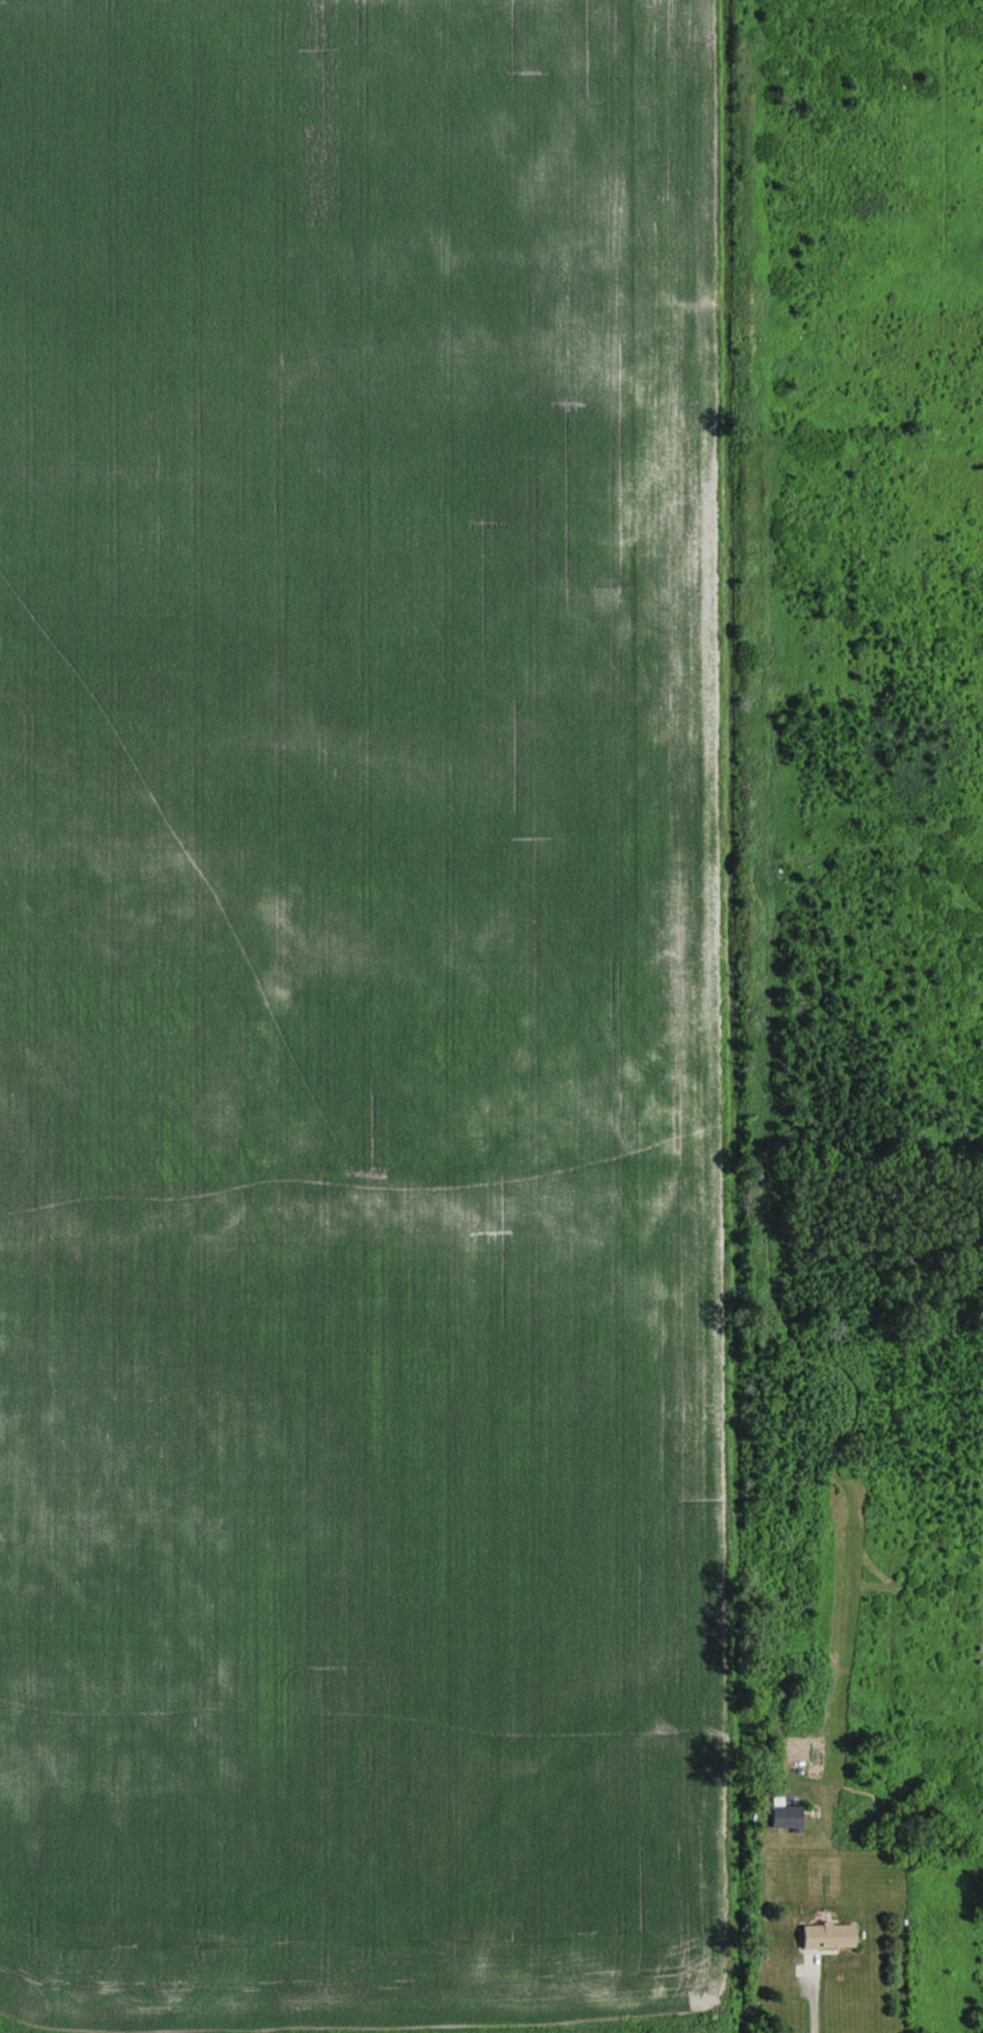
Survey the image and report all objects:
building: (779, 1814)
building: (819, 1934)
road: (810, 1992)

